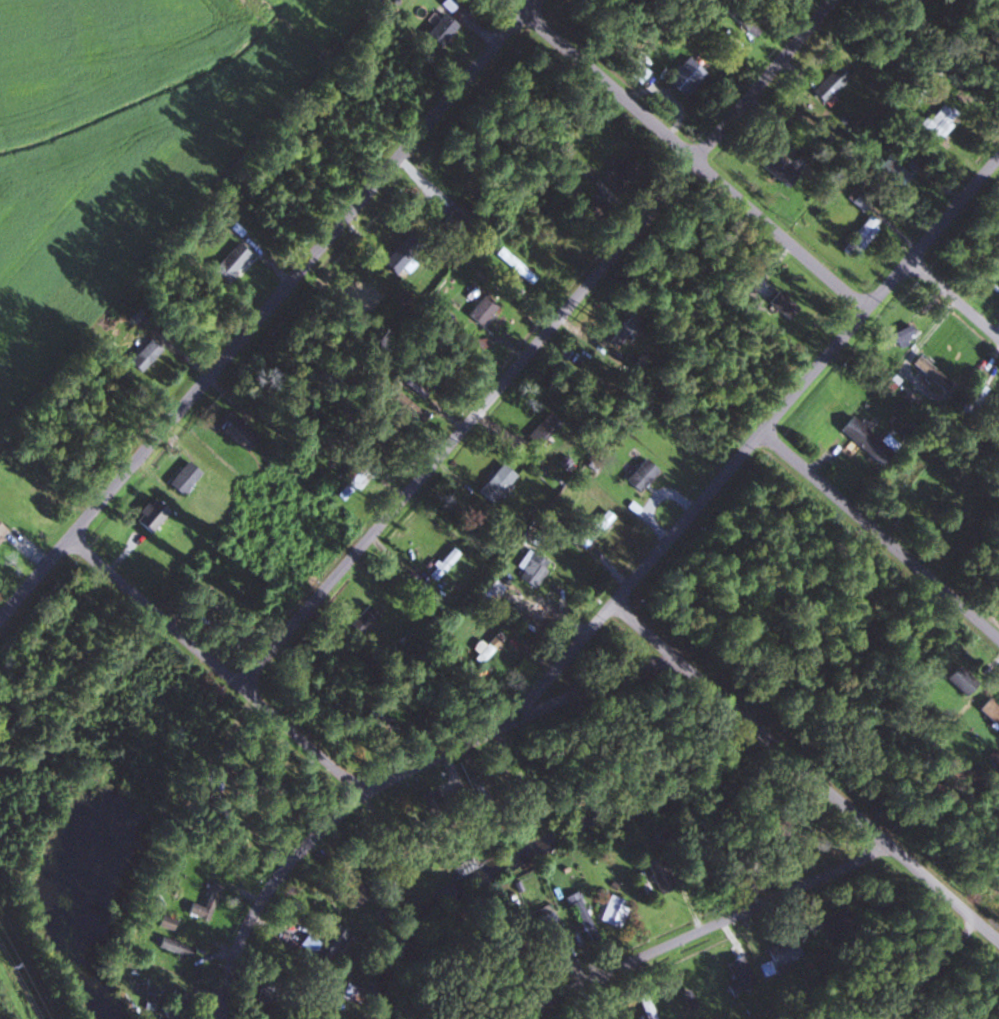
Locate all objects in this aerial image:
building: (438, 29)
building: (684, 77)
building: (827, 83)
building: (936, 120)
road: (689, 162)
building: (776, 168)
building: (616, 171)
building: (889, 176)
building: (858, 238)
building: (394, 261)
building: (228, 263)
road: (953, 303)
building: (780, 305)
road: (266, 309)
building: (479, 310)
building: (621, 333)
building: (897, 337)
road: (543, 346)
building: (141, 355)
building: (929, 373)
road: (806, 378)
building: (410, 388)
building: (974, 392)
building: (541, 430)
building: (232, 432)
building: (862, 440)
building: (639, 474)
building: (353, 478)
building: (181, 479)
building: (494, 483)
building: (148, 515)
building: (592, 527)
building: (1, 530)
road: (879, 541)
building: (441, 564)
building: (531, 569)
building: (209, 600)
road: (155, 618)
building: (362, 618)
building: (989, 711)
road: (501, 720)
road: (752, 726)
road: (303, 745)
road: (685, 795)
building: (463, 866)
building: (657, 875)
road: (266, 894)
road: (943, 894)
building: (203, 903)
building: (612, 911)
building: (580, 915)
building: (163, 922)
building: (834, 923)
road: (705, 925)
building: (546, 926)
building: (322, 943)
building: (173, 946)
building: (779, 957)
power tower: (13, 966)
road: (931, 971)
building: (736, 974)
building: (352, 993)
building: (644, 1005)
building: (173, 1006)

